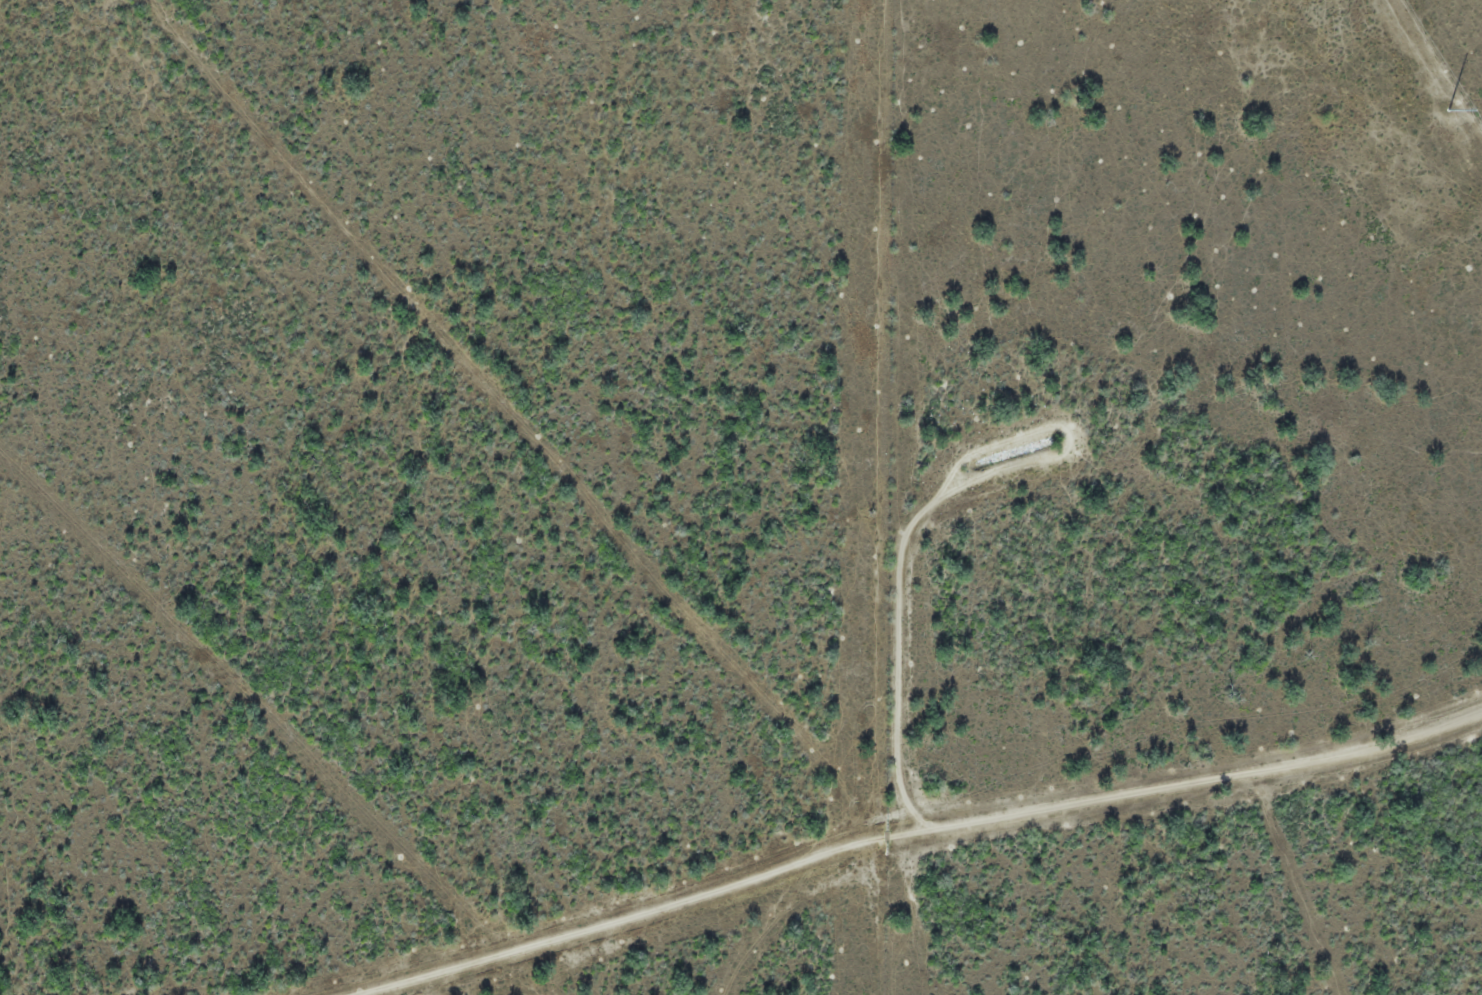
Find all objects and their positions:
power tower: (1449, 110)
road: (905, 839)
road: (748, 940)

